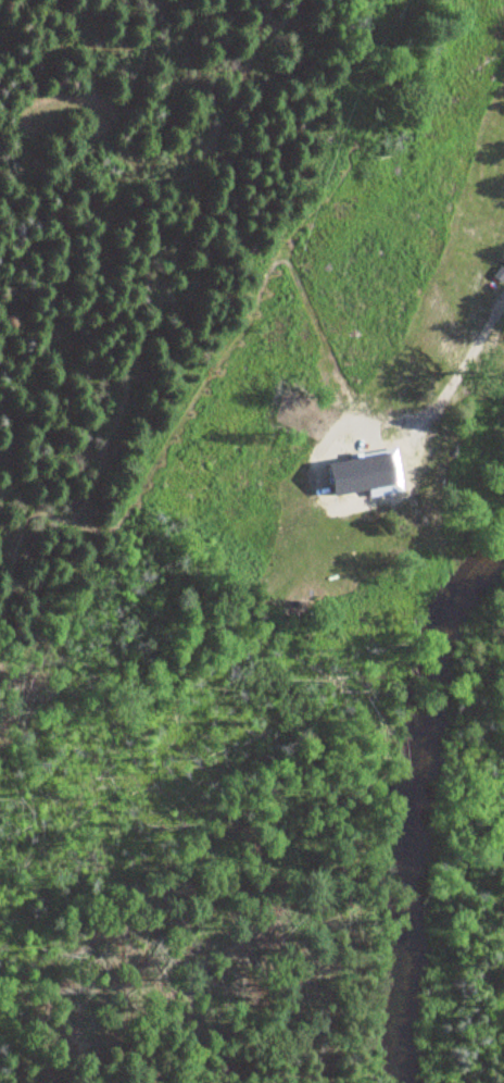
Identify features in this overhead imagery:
road: (411, 124)
river: (416, 807)

